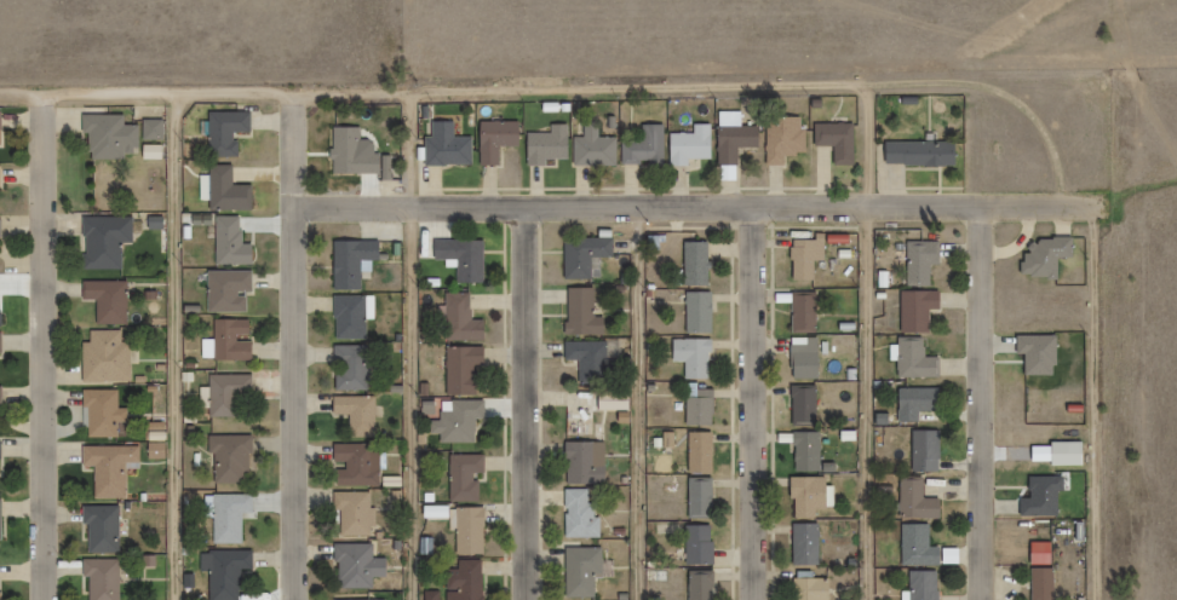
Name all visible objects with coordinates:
road: (570, 92)
building: (150, 128)
building: (223, 131)
building: (107, 135)
building: (781, 138)
building: (493, 139)
building: (733, 140)
building: (834, 140)
building: (443, 145)
building: (545, 145)
building: (688, 145)
building: (643, 146)
building: (592, 148)
building: (350, 151)
building: (917, 152)
building: (224, 190)
road: (704, 206)
building: (102, 241)
building: (228, 242)
building: (581, 255)
building: (1041, 255)
building: (460, 256)
building: (800, 259)
building: (349, 261)
building: (918, 261)
building: (693, 264)
building: (225, 292)
building: (105, 300)
building: (914, 311)
building: (579, 312)
building: (695, 312)
building: (800, 312)
building: (346, 317)
building: (458, 318)
building: (229, 339)
road: (866, 345)
road: (409, 346)
road: (291, 347)
road: (47, 348)
road: (178, 348)
building: (580, 351)
building: (1035, 353)
building: (103, 357)
building: (690, 357)
building: (802, 358)
building: (913, 360)
building: (348, 367)
building: (460, 370)
building: (226, 394)
building: (610, 398)
road: (1103, 402)
road: (752, 403)
building: (913, 403)
road: (980, 403)
road: (523, 404)
road: (647, 404)
building: (800, 404)
building: (696, 406)
building: (99, 412)
building: (354, 412)
building: (454, 422)
building: (923, 450)
building: (696, 451)
building: (803, 451)
building: (229, 457)
building: (582, 462)
building: (354, 463)
building: (108, 467)
building: (463, 477)
building: (804, 496)
building: (1039, 497)
building: (697, 498)
building: (913, 500)
building: (351, 512)
building: (579, 513)
building: (226, 517)
building: (99, 527)
building: (465, 530)
building: (802, 543)
building: (696, 544)
building: (915, 546)
building: (355, 565)
building: (223, 571)
building: (580, 571)
building: (101, 578)
building: (461, 581)
building: (1040, 583)
building: (697, 585)
building: (919, 585)
building: (808, 588)
building: (0, 599)

